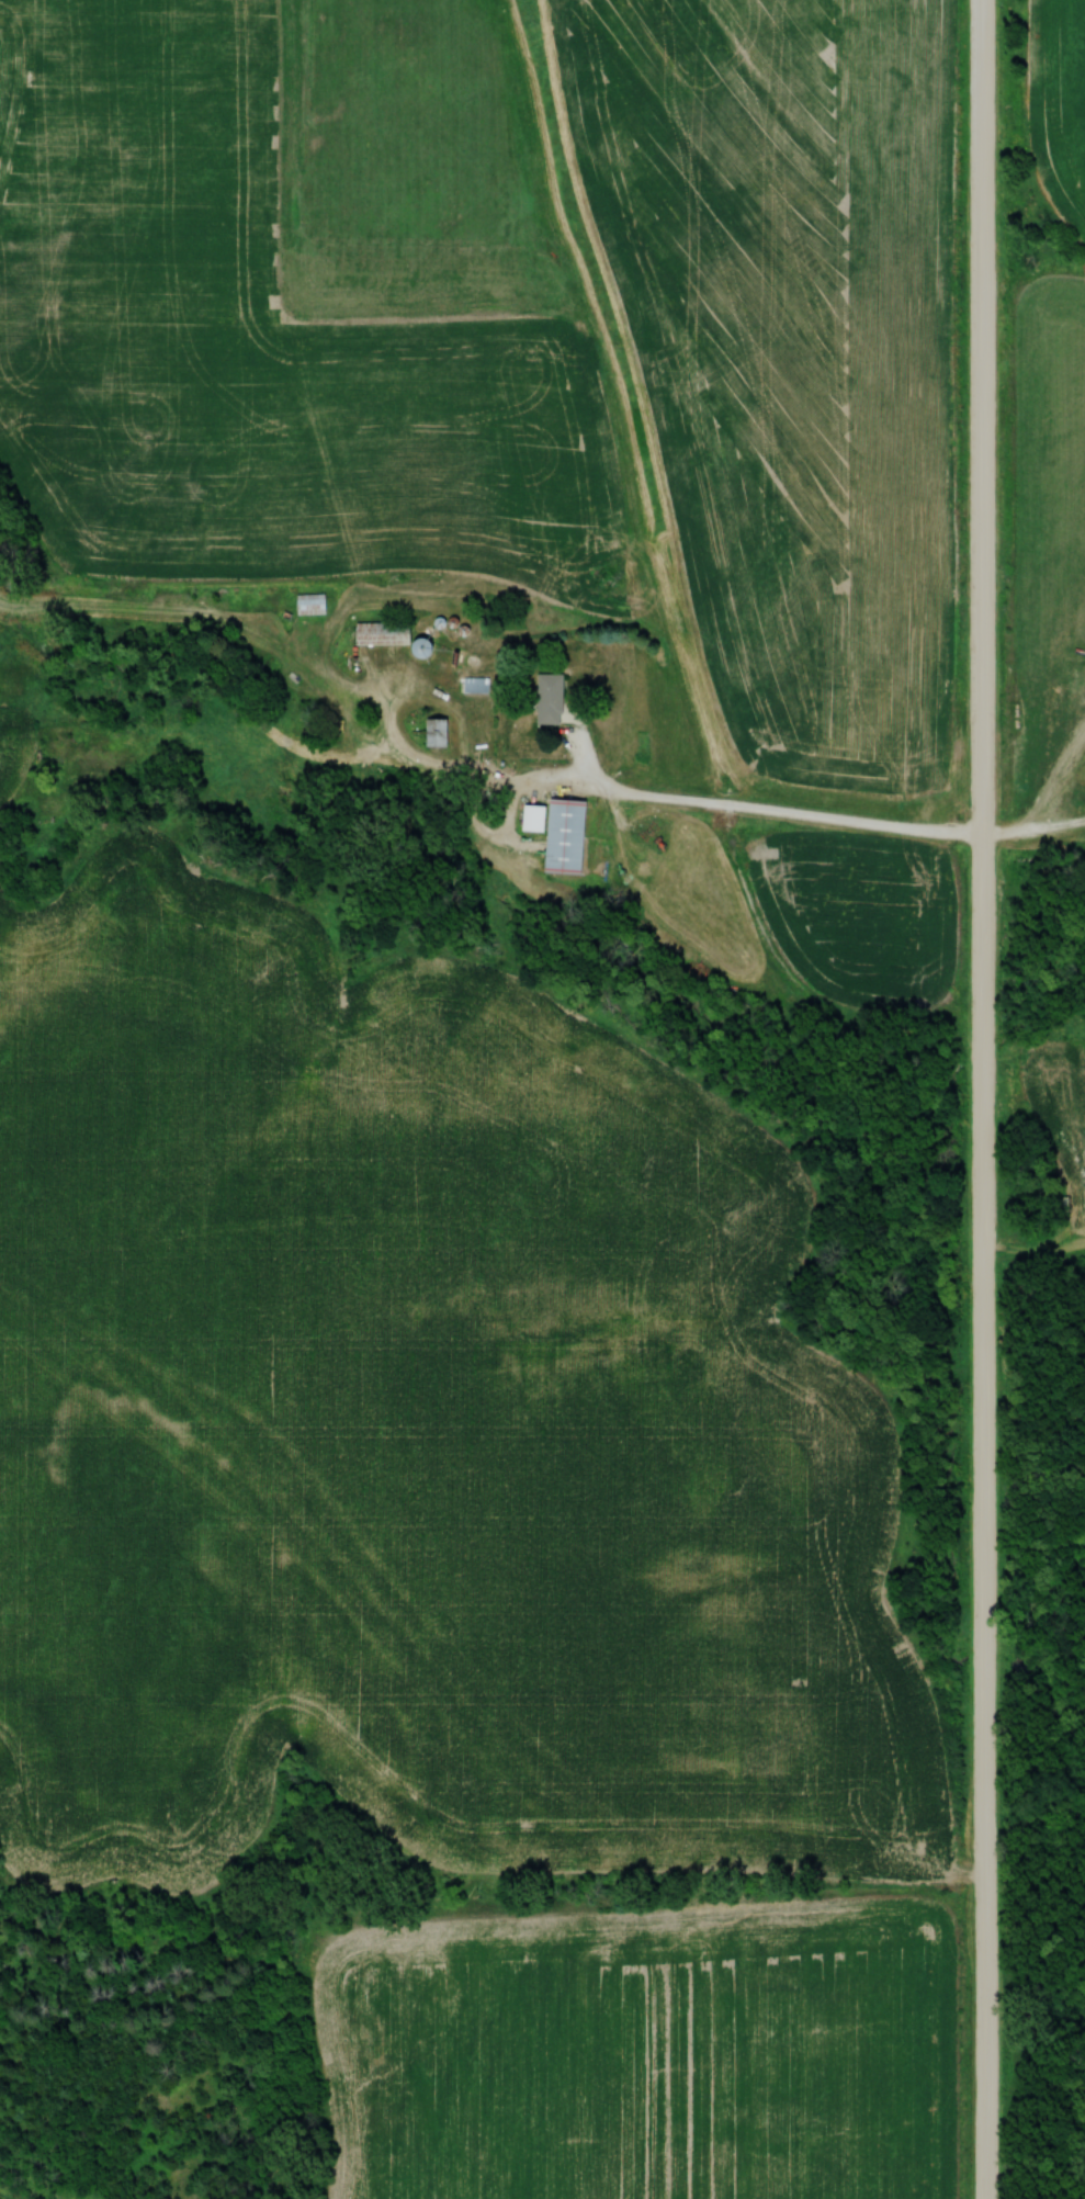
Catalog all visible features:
building: (306, 604)
building: (375, 633)
building: (545, 699)
building: (431, 732)
road: (779, 810)
building: (554, 832)
road: (984, 1099)

